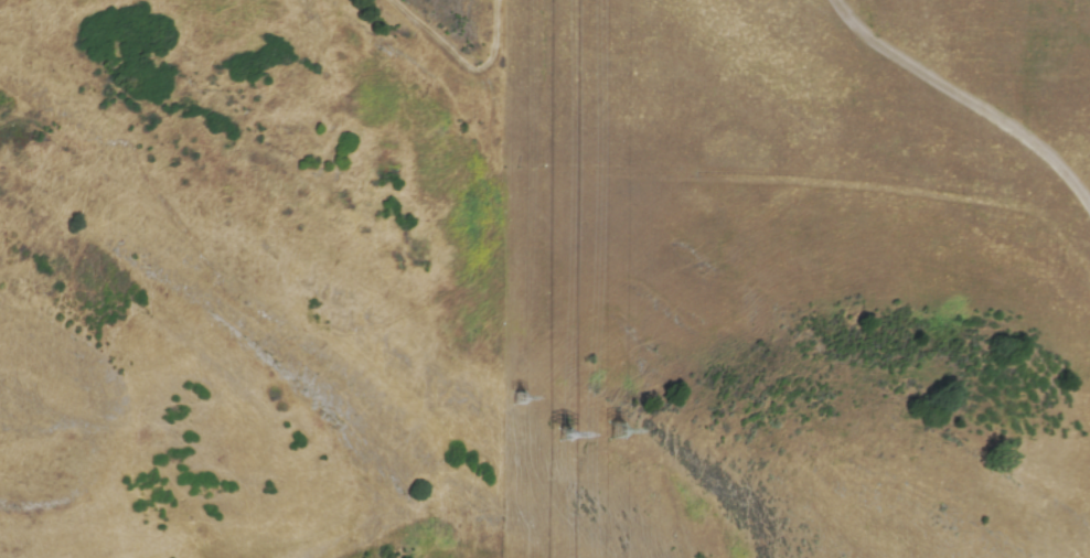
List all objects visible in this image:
road: (462, 75)
power tower: (522, 399)
power tower: (622, 420)
power tower: (567, 423)

